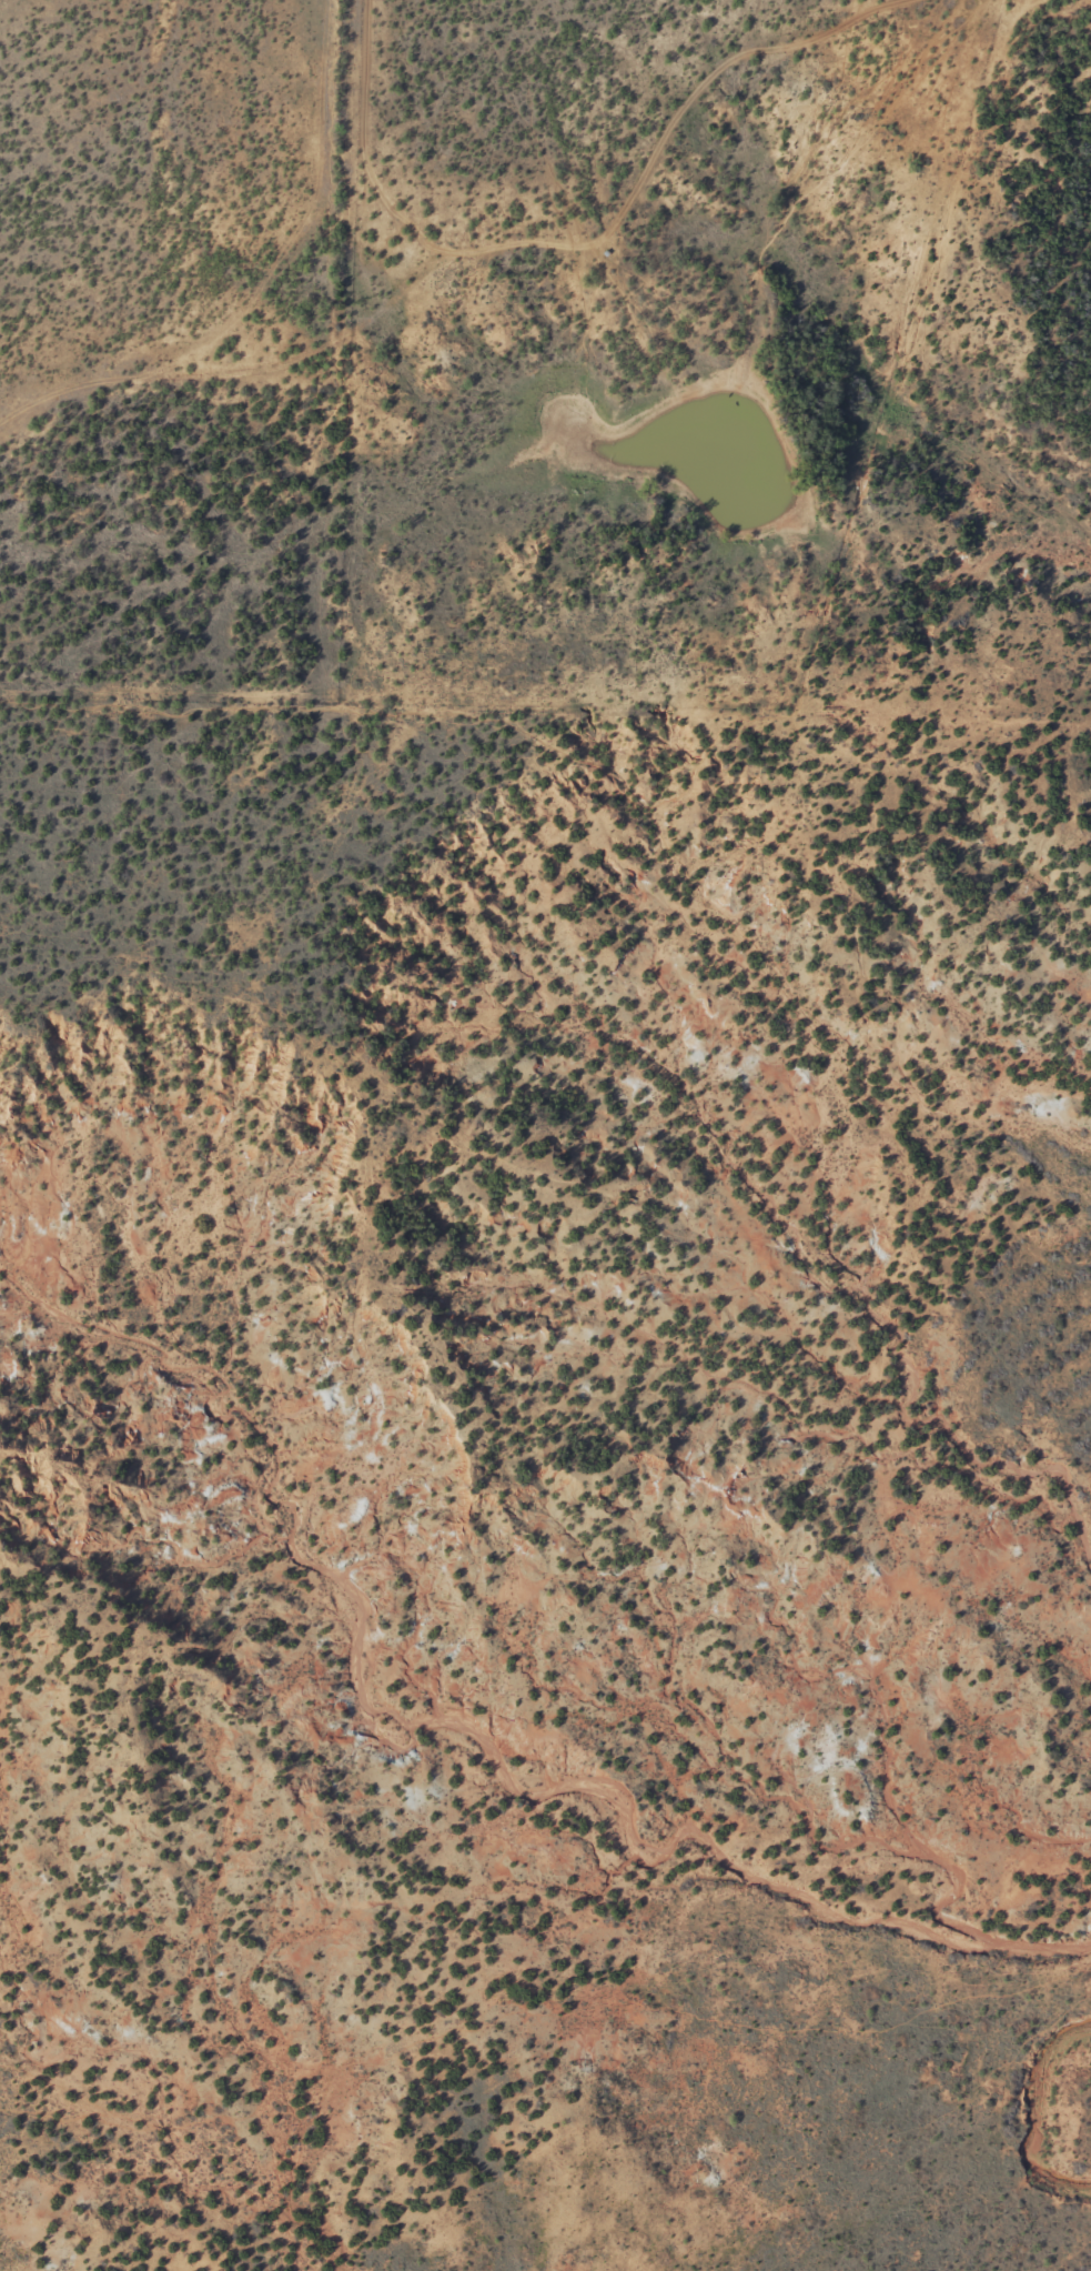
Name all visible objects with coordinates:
road: (422, 243)

